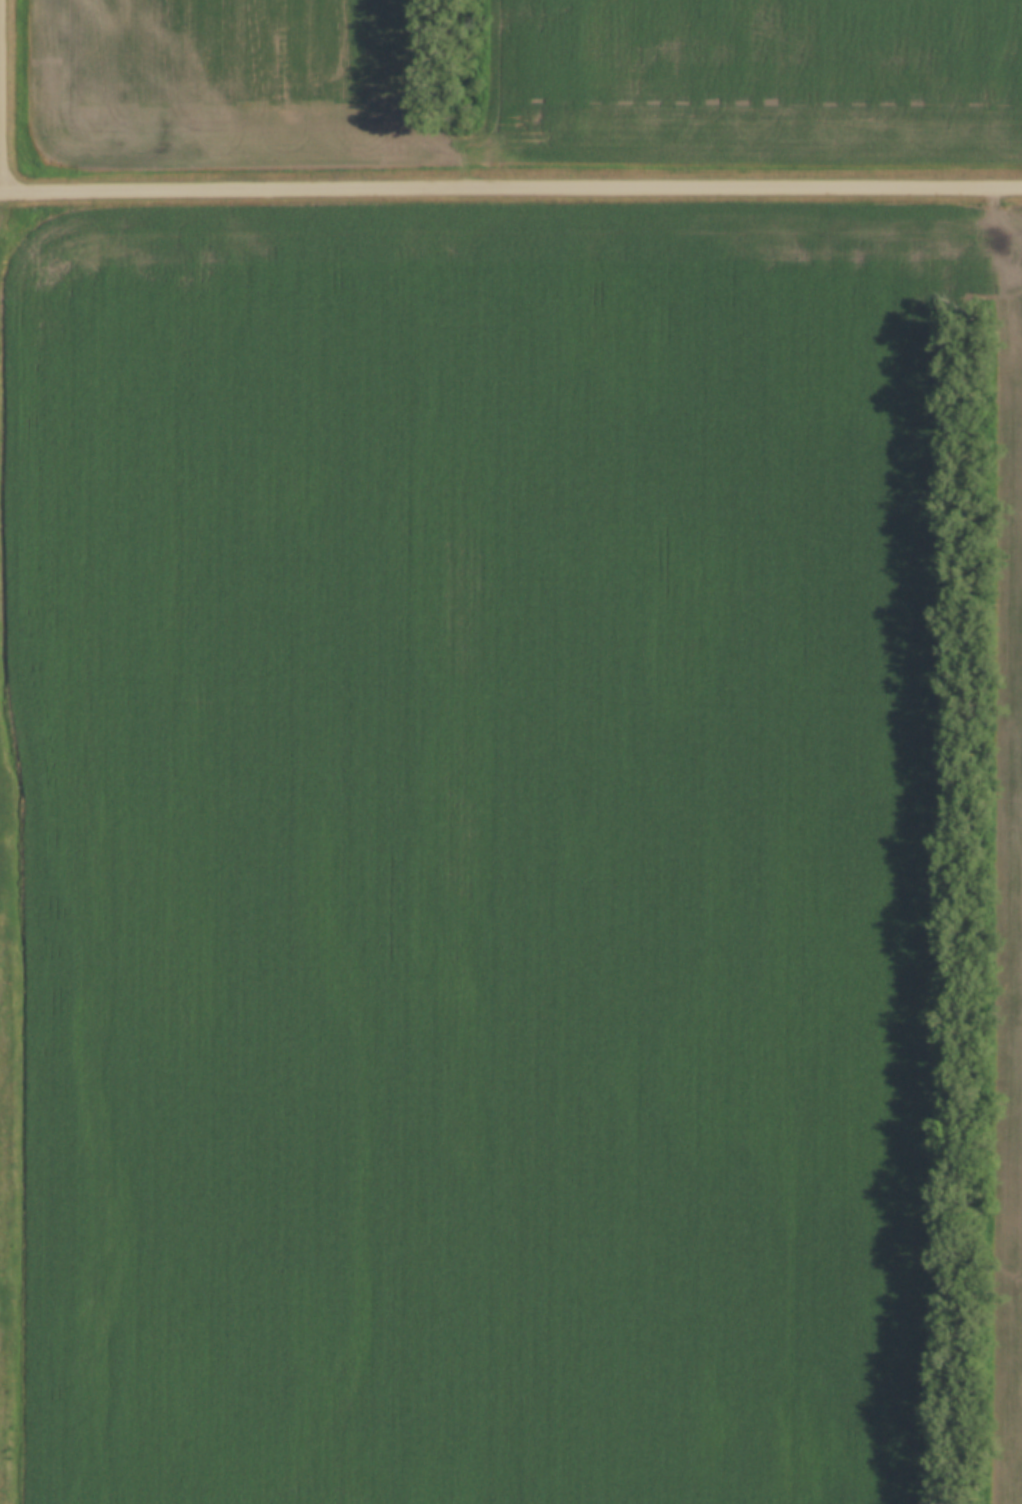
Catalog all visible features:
road: (1, 97)
road: (510, 192)

